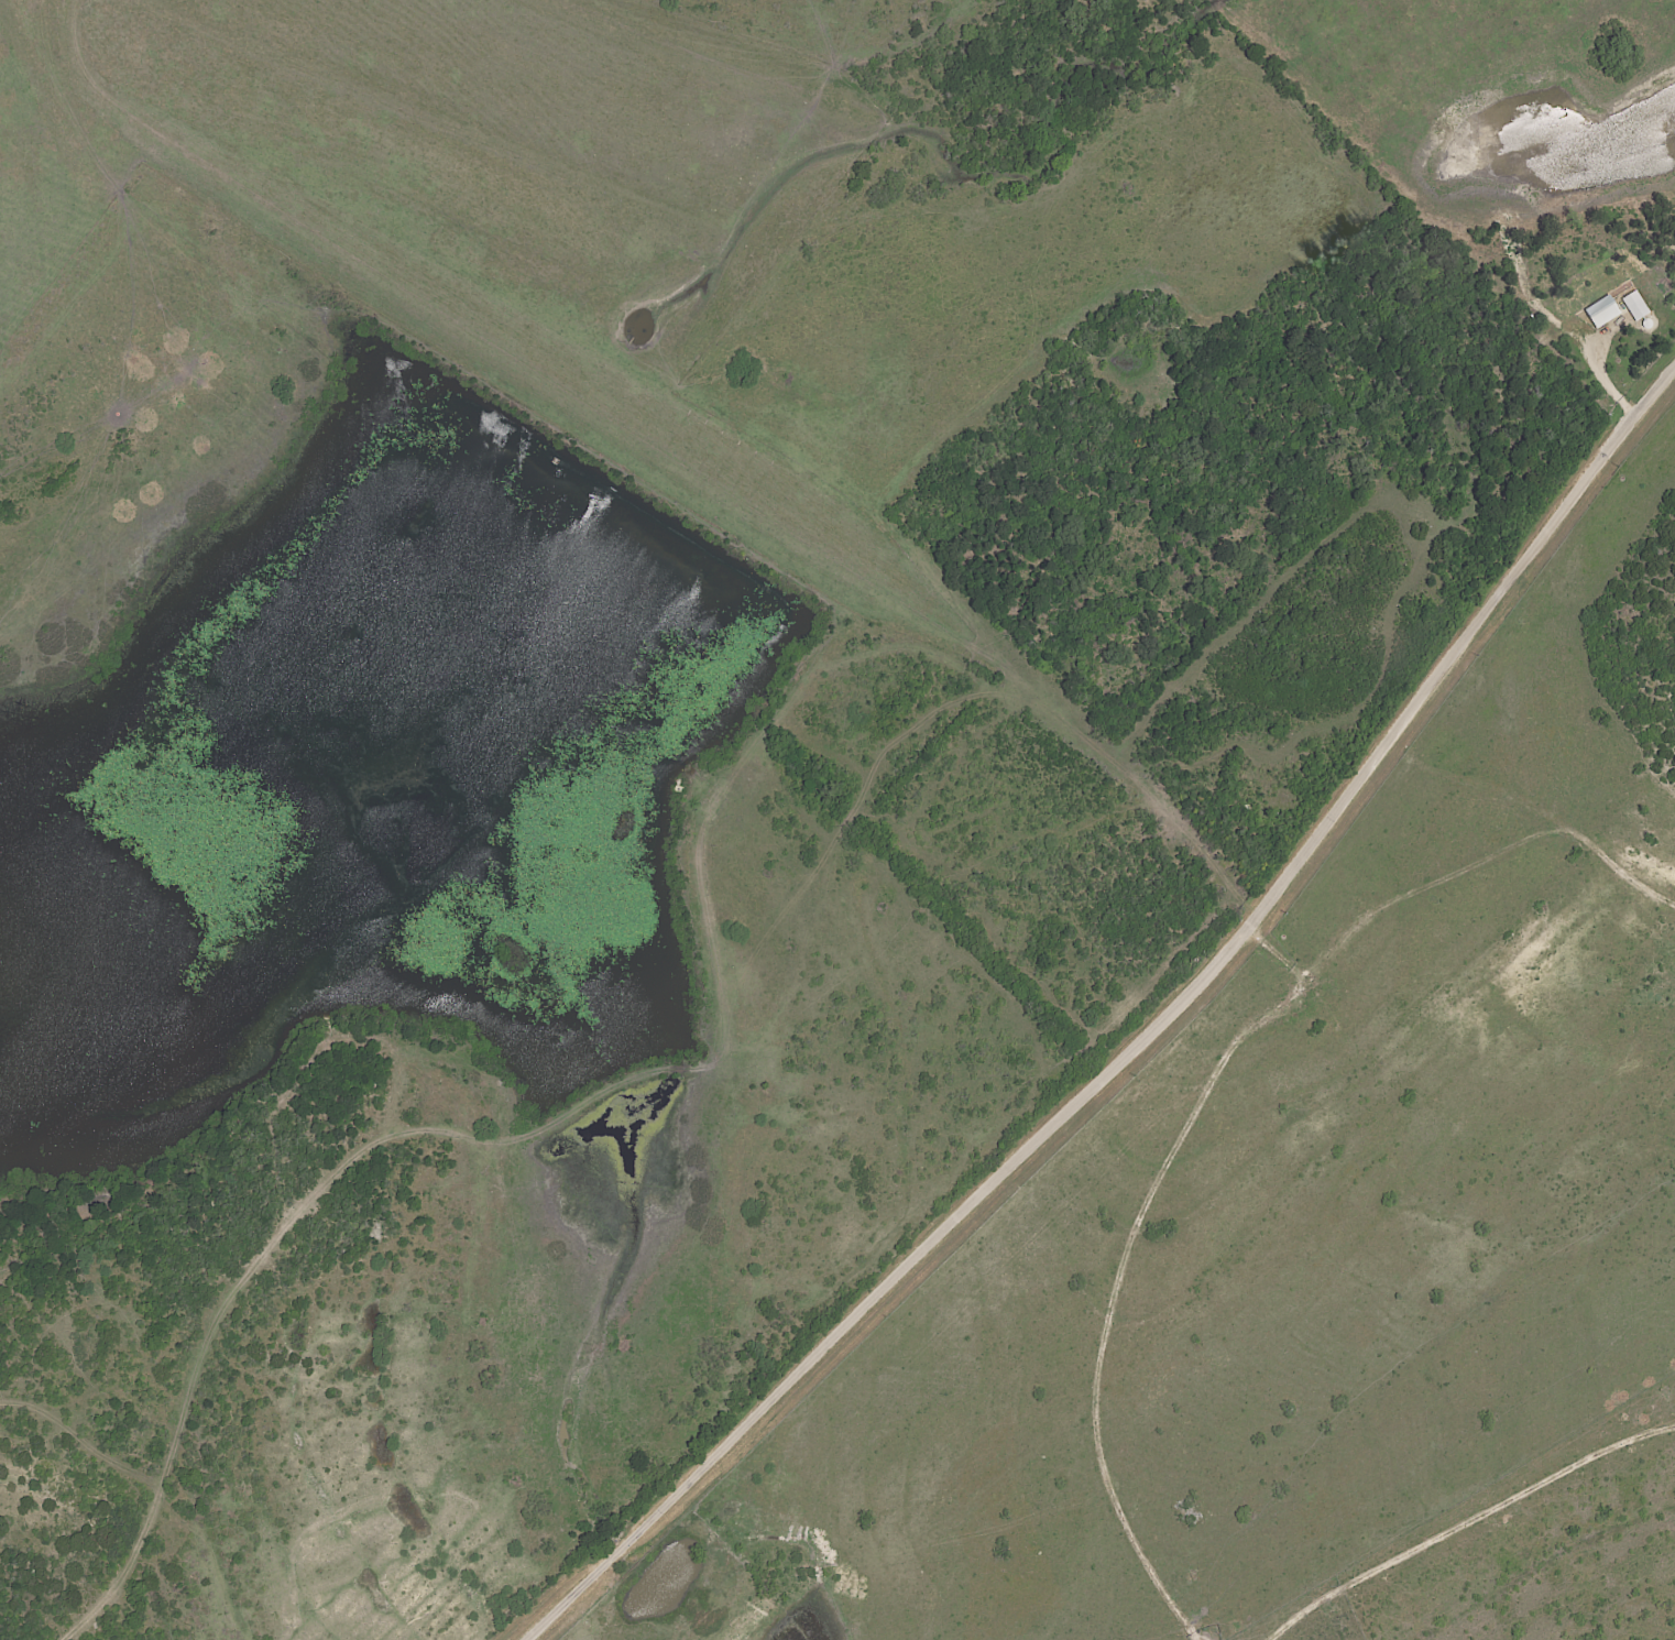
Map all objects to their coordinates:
dam: (505, 372)
road: (1142, 1046)

